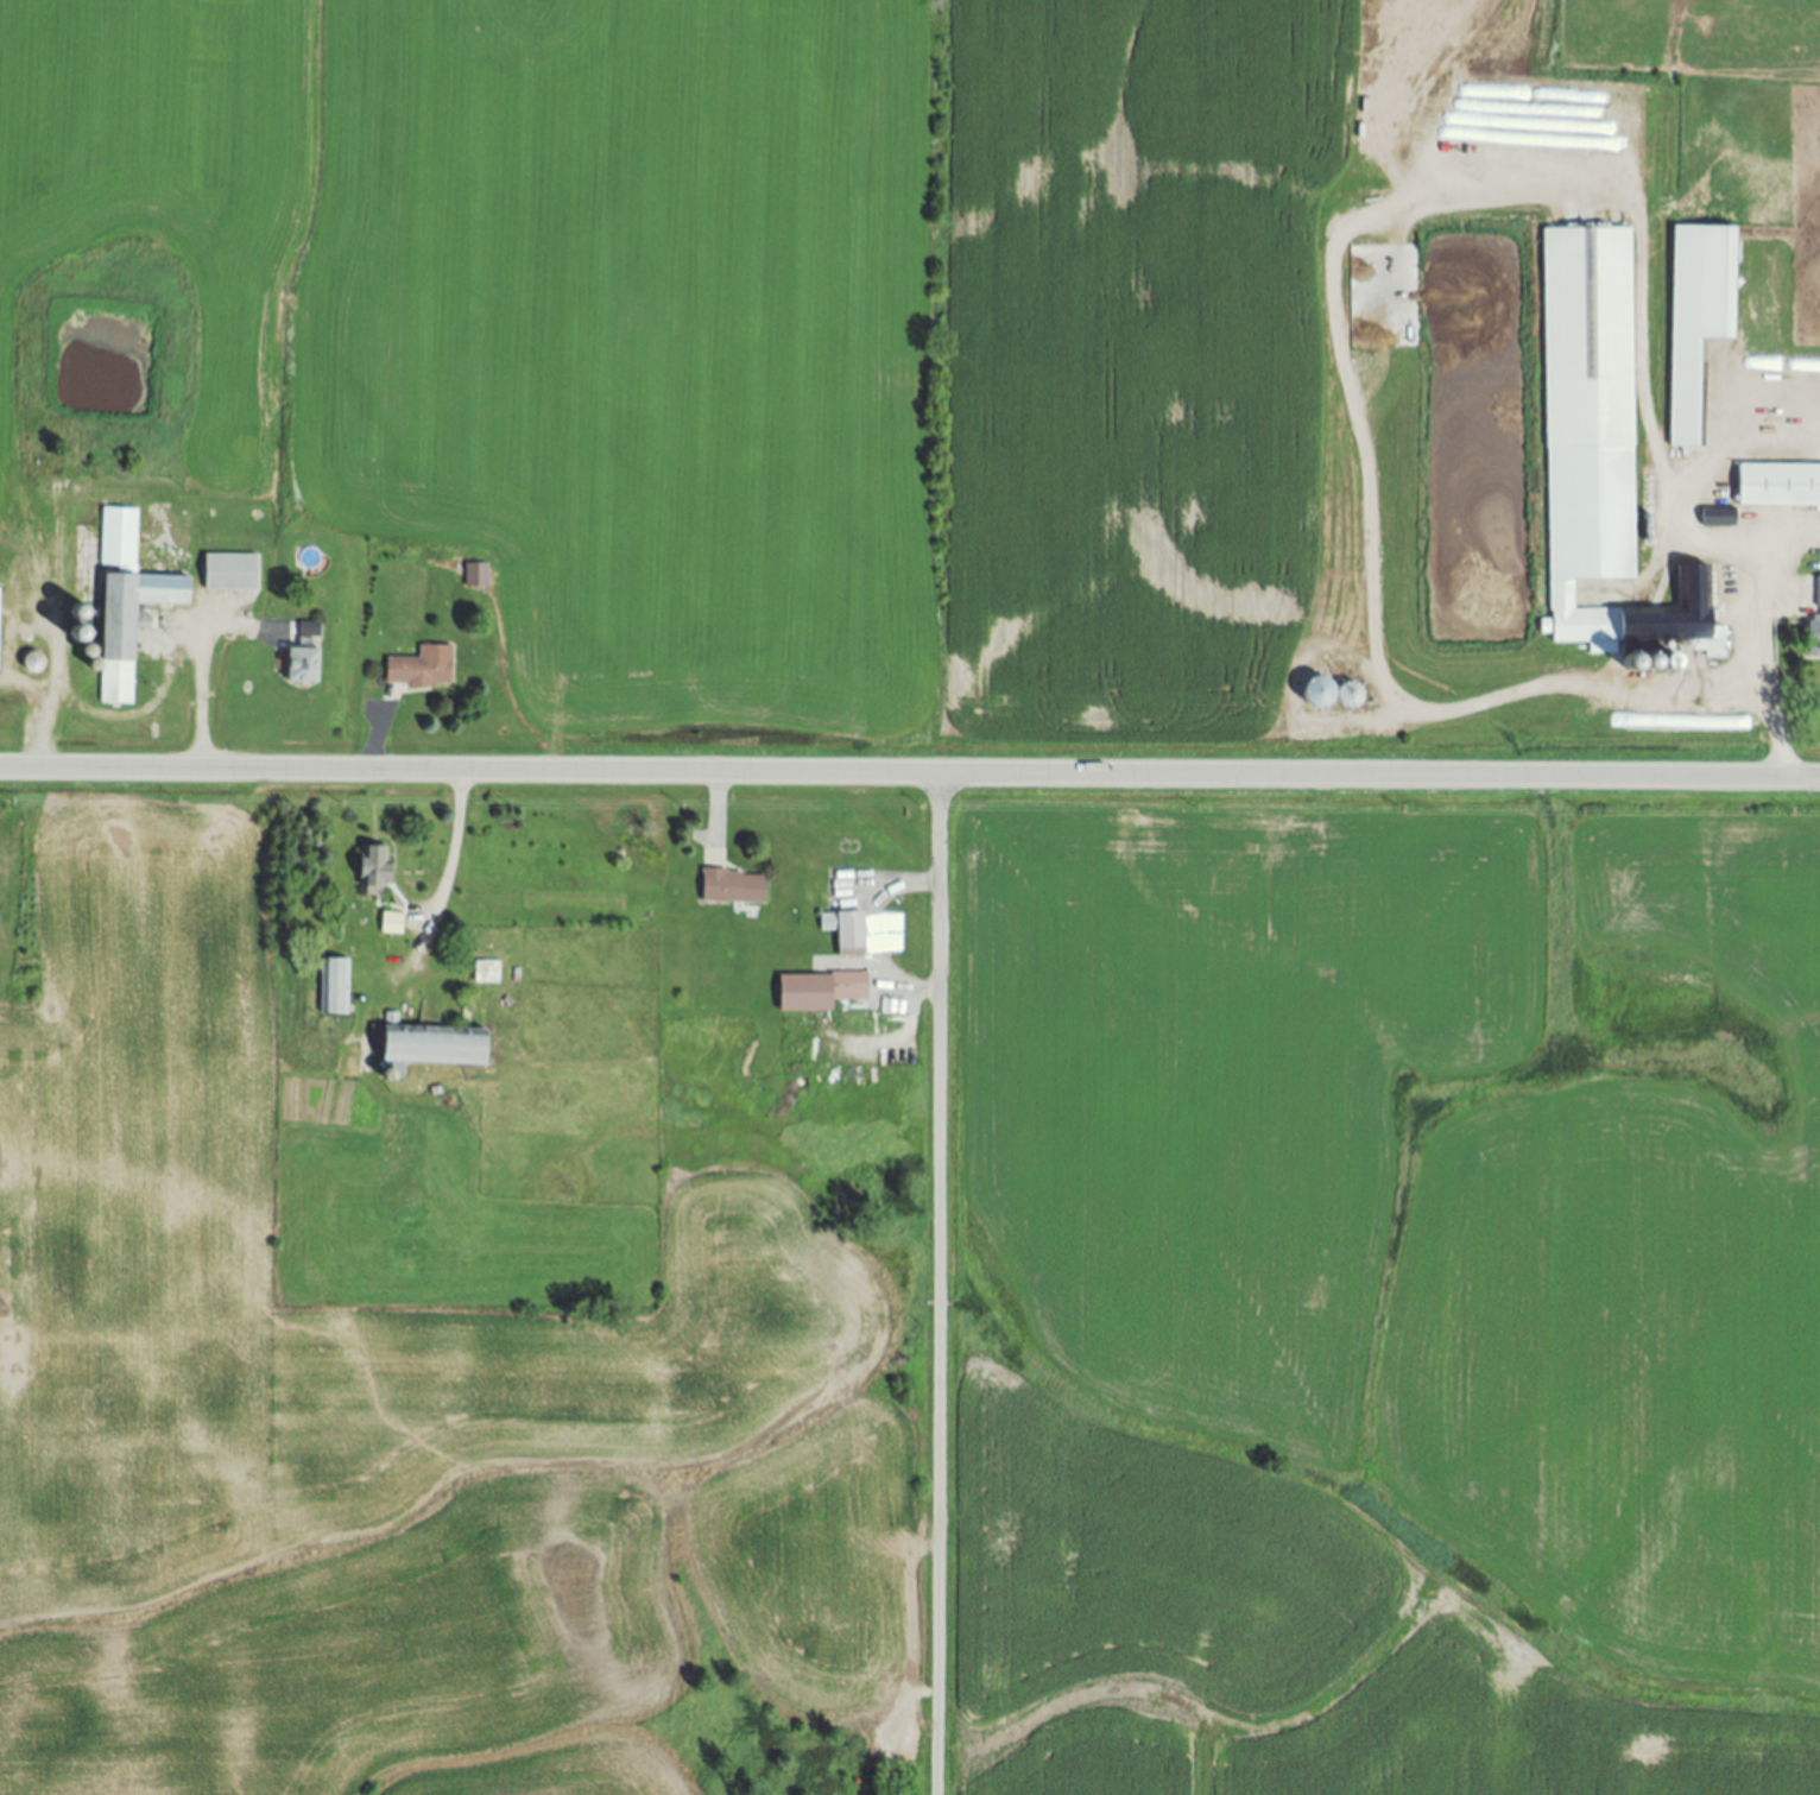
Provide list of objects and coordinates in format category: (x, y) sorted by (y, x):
road: (1332, 305)
building: (1689, 339)
building: (1599, 447)
building: (1778, 487)
building: (1721, 519)
building: (120, 538)
building: (233, 574)
building: (478, 576)
building: (0, 592)
building: (1819, 617)
building: (132, 627)
building: (307, 658)
building: (423, 669)
road: (1769, 672)
building: (1333, 695)
road: (201, 700)
road: (53, 712)
road: (910, 773)
road: (719, 801)
road: (454, 857)
building: (378, 868)
road: (903, 883)
building: (737, 887)
building: (392, 924)
building: (848, 933)
building: (488, 973)
building: (336, 988)
building: (822, 992)
building: (432, 1047)
road: (940, 1284)

